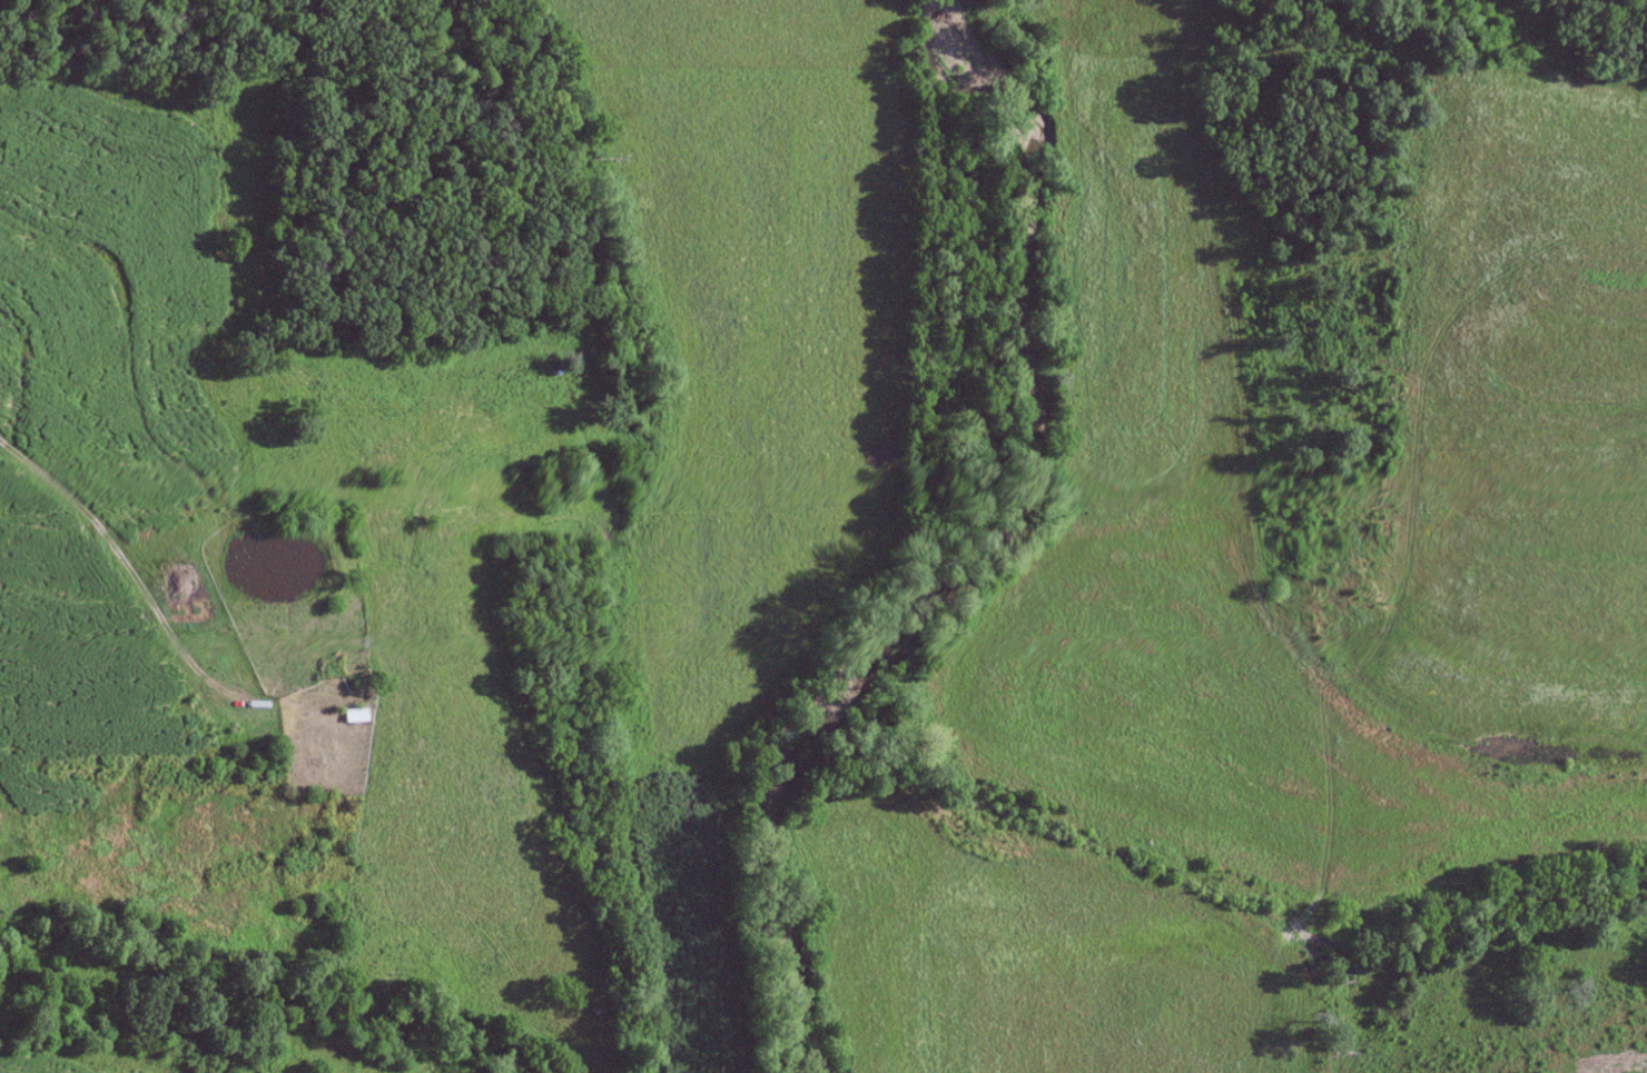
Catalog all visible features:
building: (353, 715)

